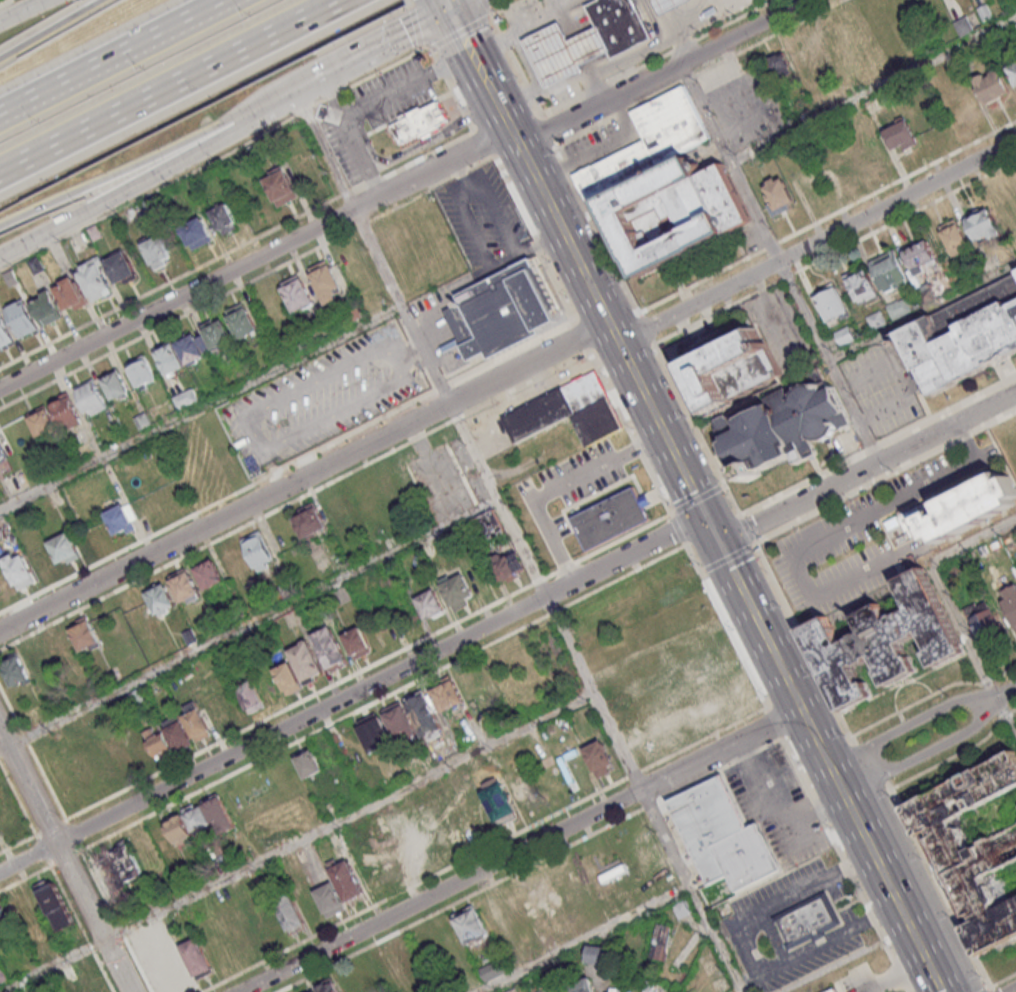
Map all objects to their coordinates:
road: (411, 0)
road: (7, 3)
road: (412, 3)
road: (448, 4)
road: (460, 4)
road: (487, 4)
building: (670, 5)
road: (502, 7)
traffic signals: (451, 9)
road: (28, 13)
road: (416, 25)
building: (620, 25)
road: (48, 29)
road: (459, 31)
road: (398, 36)
road: (421, 46)
road: (431, 47)
road: (470, 48)
building: (566, 51)
road: (111, 56)
building: (807, 56)
building: (779, 65)
road: (439, 67)
road: (662, 70)
building: (1013, 70)
road: (376, 71)
road: (313, 80)
road: (168, 85)
building: (992, 85)
road: (872, 87)
parking lot: (393, 91)
building: (961, 100)
road: (273, 101)
road: (459, 103)
road: (369, 104)
road: (256, 109)
road: (303, 109)
road: (409, 112)
building: (420, 122)
building: (901, 135)
road: (435, 138)
parking lot: (603, 141)
building: (648, 141)
road: (483, 142)
parking lot: (346, 152)
road: (427, 152)
road: (586, 157)
road: (480, 161)
road: (563, 163)
road: (124, 169)
road: (461, 171)
road: (372, 179)
road: (474, 184)
road: (356, 186)
building: (281, 187)
road: (127, 189)
road: (148, 192)
road: (343, 192)
building: (779, 195)
road: (410, 198)
building: (674, 212)
road: (556, 213)
road: (905, 215)
road: (499, 217)
building: (224, 218)
road: (360, 223)
building: (983, 225)
road: (475, 231)
building: (196, 232)
road: (608, 233)
building: (956, 237)
road: (535, 238)
road: (818, 241)
building: (157, 251)
road: (256, 257)
building: (923, 258)
road: (779, 262)
building: (120, 267)
building: (891, 270)
road: (787, 275)
building: (94, 279)
road: (169, 280)
building: (326, 281)
building: (863, 285)
building: (297, 293)
building: (70, 294)
building: (833, 304)
building: (46, 307)
building: (500, 311)
road: (717, 311)
road: (396, 312)
road: (922, 312)
road: (178, 315)
building: (21, 318)
building: (241, 320)
road: (403, 327)
road: (645, 327)
building: (4, 333)
building: (217, 333)
building: (845, 335)
building: (963, 335)
road: (579, 337)
road: (412, 346)
building: (181, 352)
road: (405, 352)
road: (392, 360)
street lamp: (377, 368)
building: (730, 369)
building: (141, 371)
road: (909, 373)
building: (115, 384)
parking lot: (883, 390)
building: (91, 397)
building: (185, 398)
building: (554, 406)
road: (200, 407)
road: (946, 407)
building: (66, 411)
building: (41, 421)
building: (596, 422)
street lamp: (277, 423)
road: (663, 428)
road: (696, 428)
building: (784, 428)
road: (257, 431)
road: (628, 431)
road: (970, 440)
road: (870, 446)
building: (2, 454)
road: (868, 470)
road: (304, 475)
road: (884, 475)
parking lot: (922, 476)
road: (801, 481)
road: (722, 484)
road: (557, 486)
road: (236, 490)
road: (696, 498)
road: (294, 500)
building: (340, 507)
building: (969, 507)
road: (671, 511)
traffic signals: (708, 516)
building: (614, 517)
building: (121, 519)
building: (309, 521)
road: (677, 528)
road: (746, 528)
road: (715, 530)
road: (973, 539)
road: (819, 540)
road: (516, 541)
road: (752, 544)
traffic signals: (722, 545)
building: (64, 548)
building: (258, 551)
parking lot: (837, 553)
road: (726, 557)
building: (233, 561)
building: (507, 566)
building: (18, 569)
road: (701, 570)
building: (208, 573)
building: (185, 586)
building: (458, 592)
building: (159, 597)
building: (1010, 601)
building: (430, 605)
building: (984, 619)
road: (248, 624)
road: (965, 628)
building: (84, 633)
road: (803, 638)
building: (884, 639)
building: (357, 643)
building: (61, 644)
building: (330, 648)
road: (776, 655)
building: (37, 657)
building: (306, 661)
road: (368, 667)
building: (15, 669)
building: (288, 677)
road: (1008, 691)
road: (353, 694)
building: (447, 695)
building: (251, 696)
road: (1008, 712)
building: (424, 713)
building: (400, 722)
road: (913, 723)
building: (196, 724)
building: (374, 732)
building: (159, 740)
road: (33, 752)
road: (928, 752)
road: (958, 753)
building: (120, 756)
building: (598, 757)
road: (868, 760)
building: (308, 763)
road: (798, 766)
building: (498, 800)
building: (1015, 811)
building: (199, 820)
building: (725, 836)
road: (295, 841)
building: (973, 848)
road: (520, 849)
road: (65, 859)
road: (533, 865)
building: (117, 867)
road: (887, 878)
building: (345, 879)
road: (939, 884)
building: (329, 899)
building: (55, 905)
building: (682, 908)
building: (288, 912)
building: (810, 920)
building: (4, 923)
building: (469, 926)
building: (153, 933)
road: (587, 939)
building: (661, 942)
building: (404, 954)
building: (598, 954)
building: (196, 958)
building: (385, 965)
road: (1004, 981)
building: (582, 985)
building: (327, 987)
road: (1011, 989)
building: (619, 990)
building: (646, 990)
building: (835, 990)
road: (988, 990)
road: (992, 990)
building: (314, 991)

